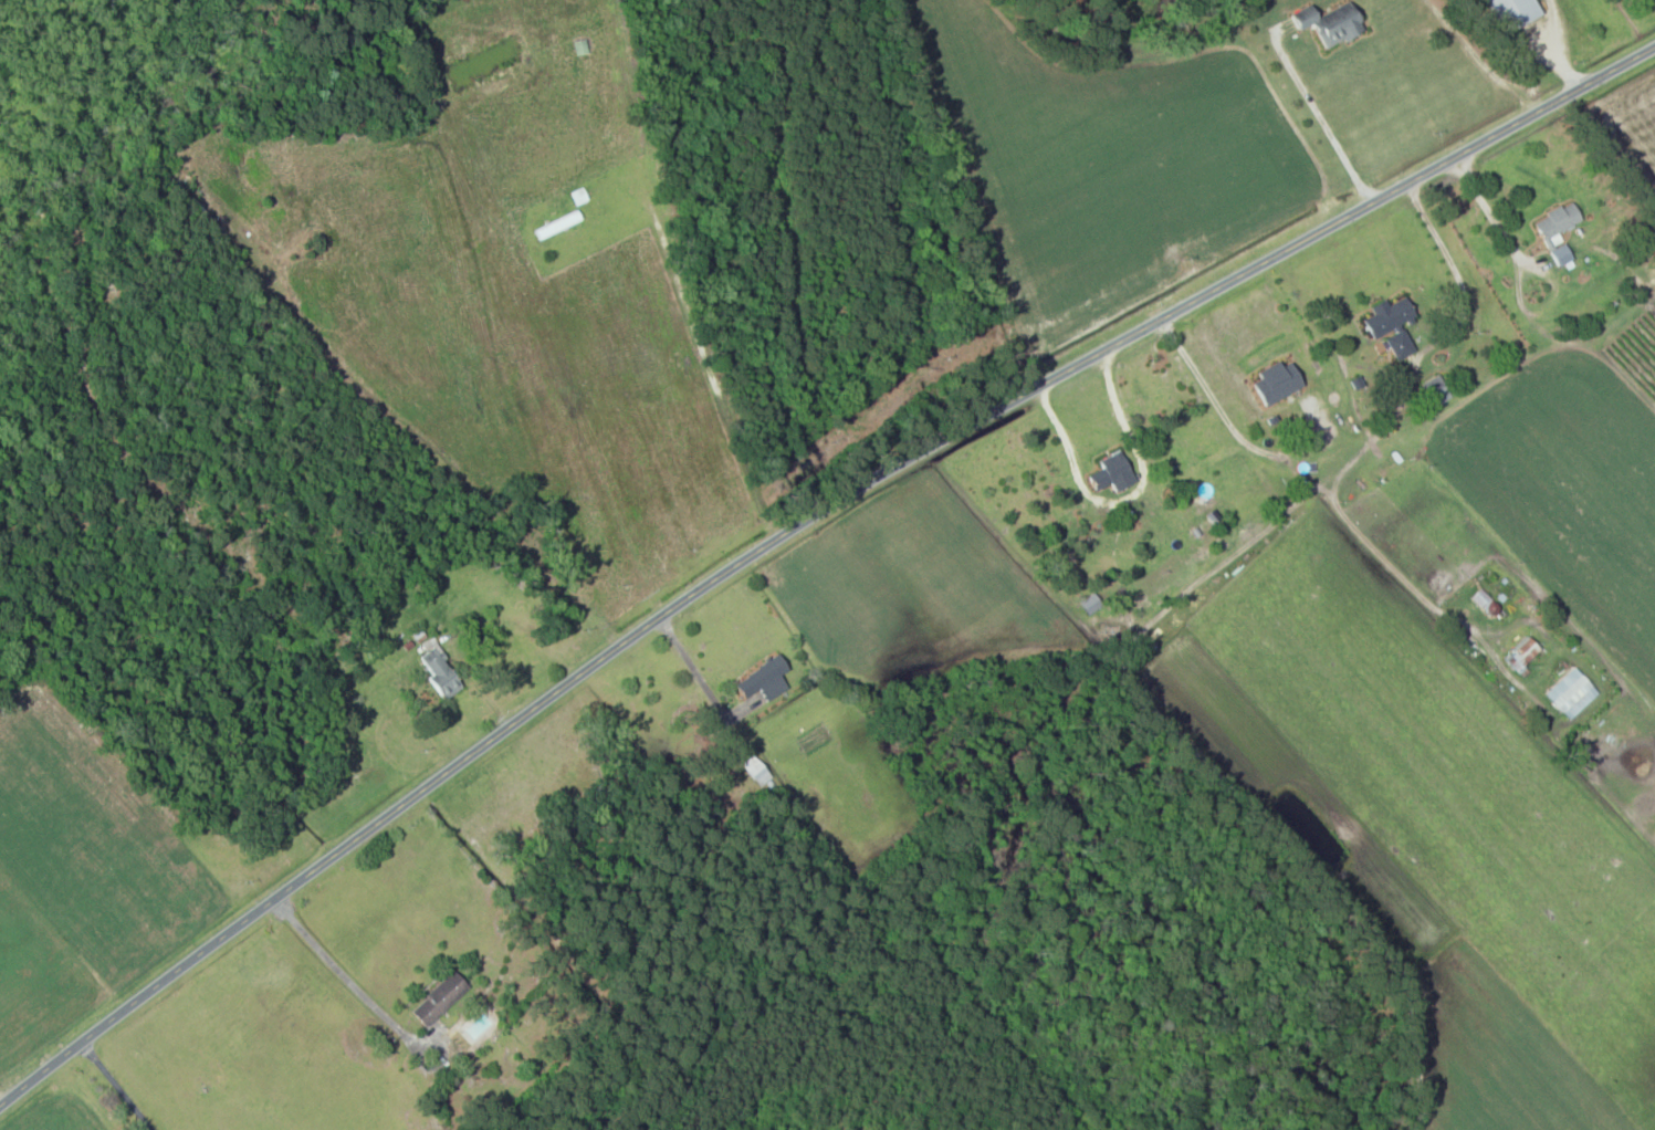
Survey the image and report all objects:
building: (1513, 13)
building: (1331, 24)
building: (580, 48)
building: (1558, 222)
building: (557, 224)
building: (1392, 325)
building: (1436, 390)
building: (1112, 472)
building: (1203, 493)
road: (795, 525)
building: (1483, 598)
building: (1522, 653)
building: (441, 672)
building: (765, 679)
building: (1572, 693)
building: (756, 771)
building: (439, 1000)

